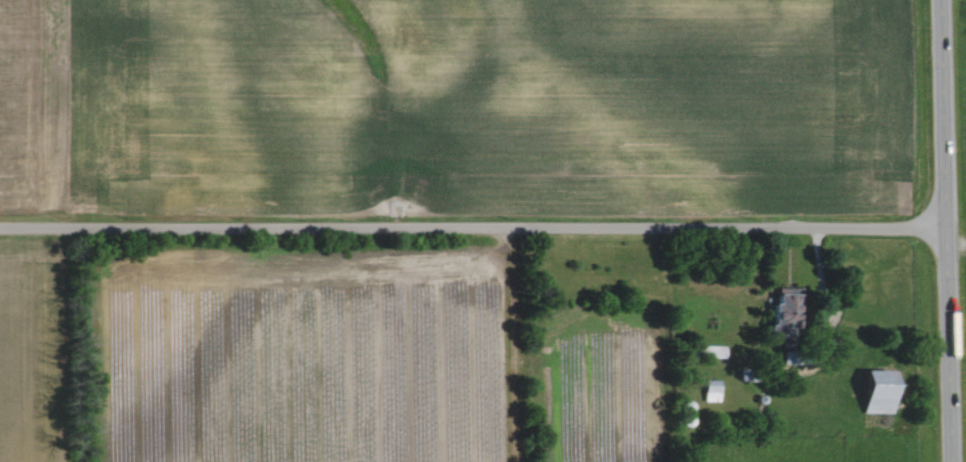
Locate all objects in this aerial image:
road: (473, 226)
road: (946, 230)
building: (778, 315)
building: (874, 391)

